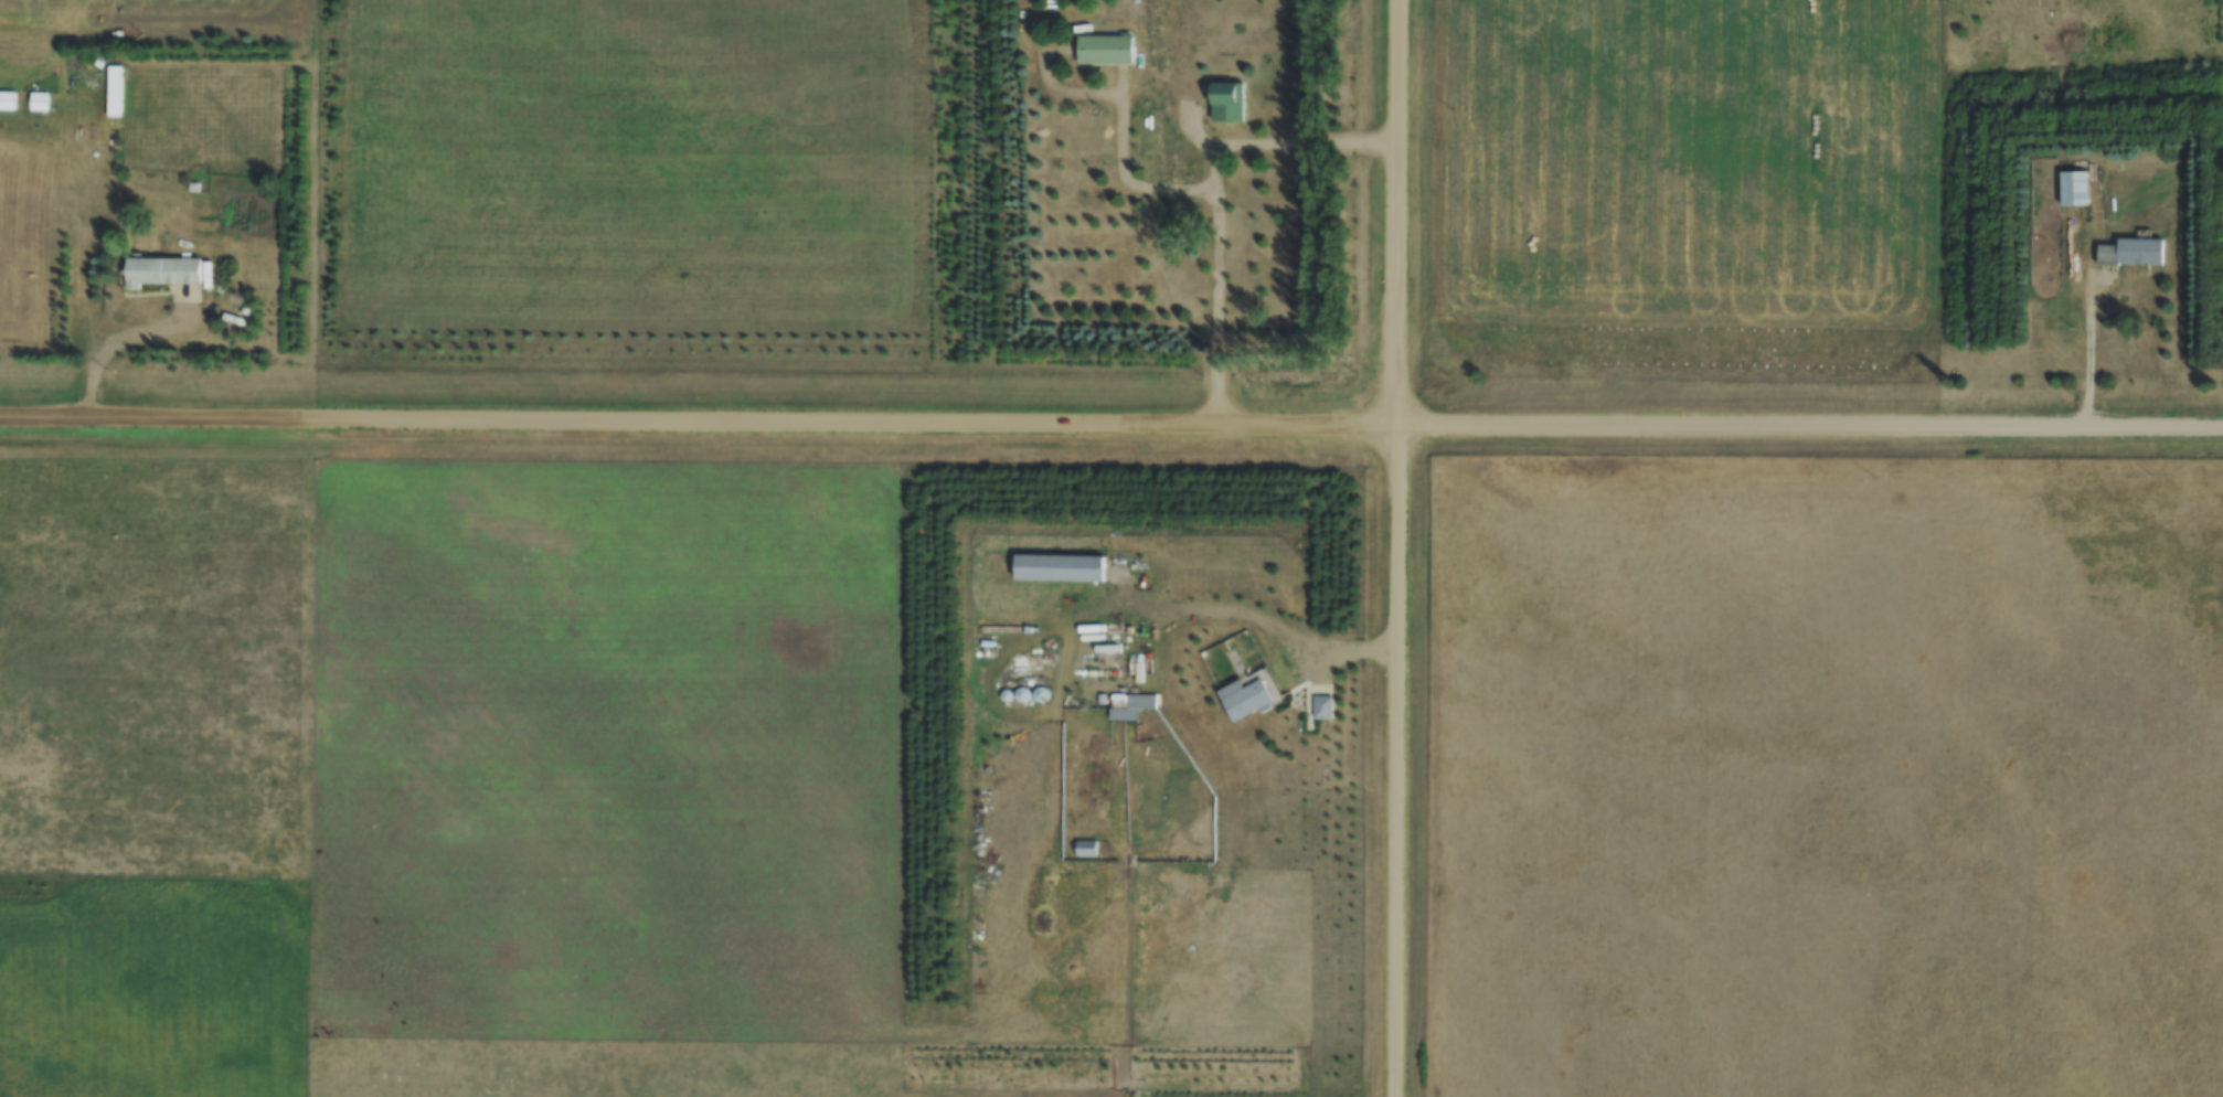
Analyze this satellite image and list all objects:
building: (1105, 50)
building: (115, 89)
building: (7, 99)
building: (39, 100)
building: (1227, 100)
building: (2075, 189)
road: (1219, 195)
building: (2134, 252)
building: (161, 271)
road: (116, 342)
road: (2092, 344)
road: (1110, 424)
road: (1396, 547)
building: (1060, 565)
road: (1243, 608)
building: (1248, 699)
building: (1323, 705)
building: (1086, 848)

